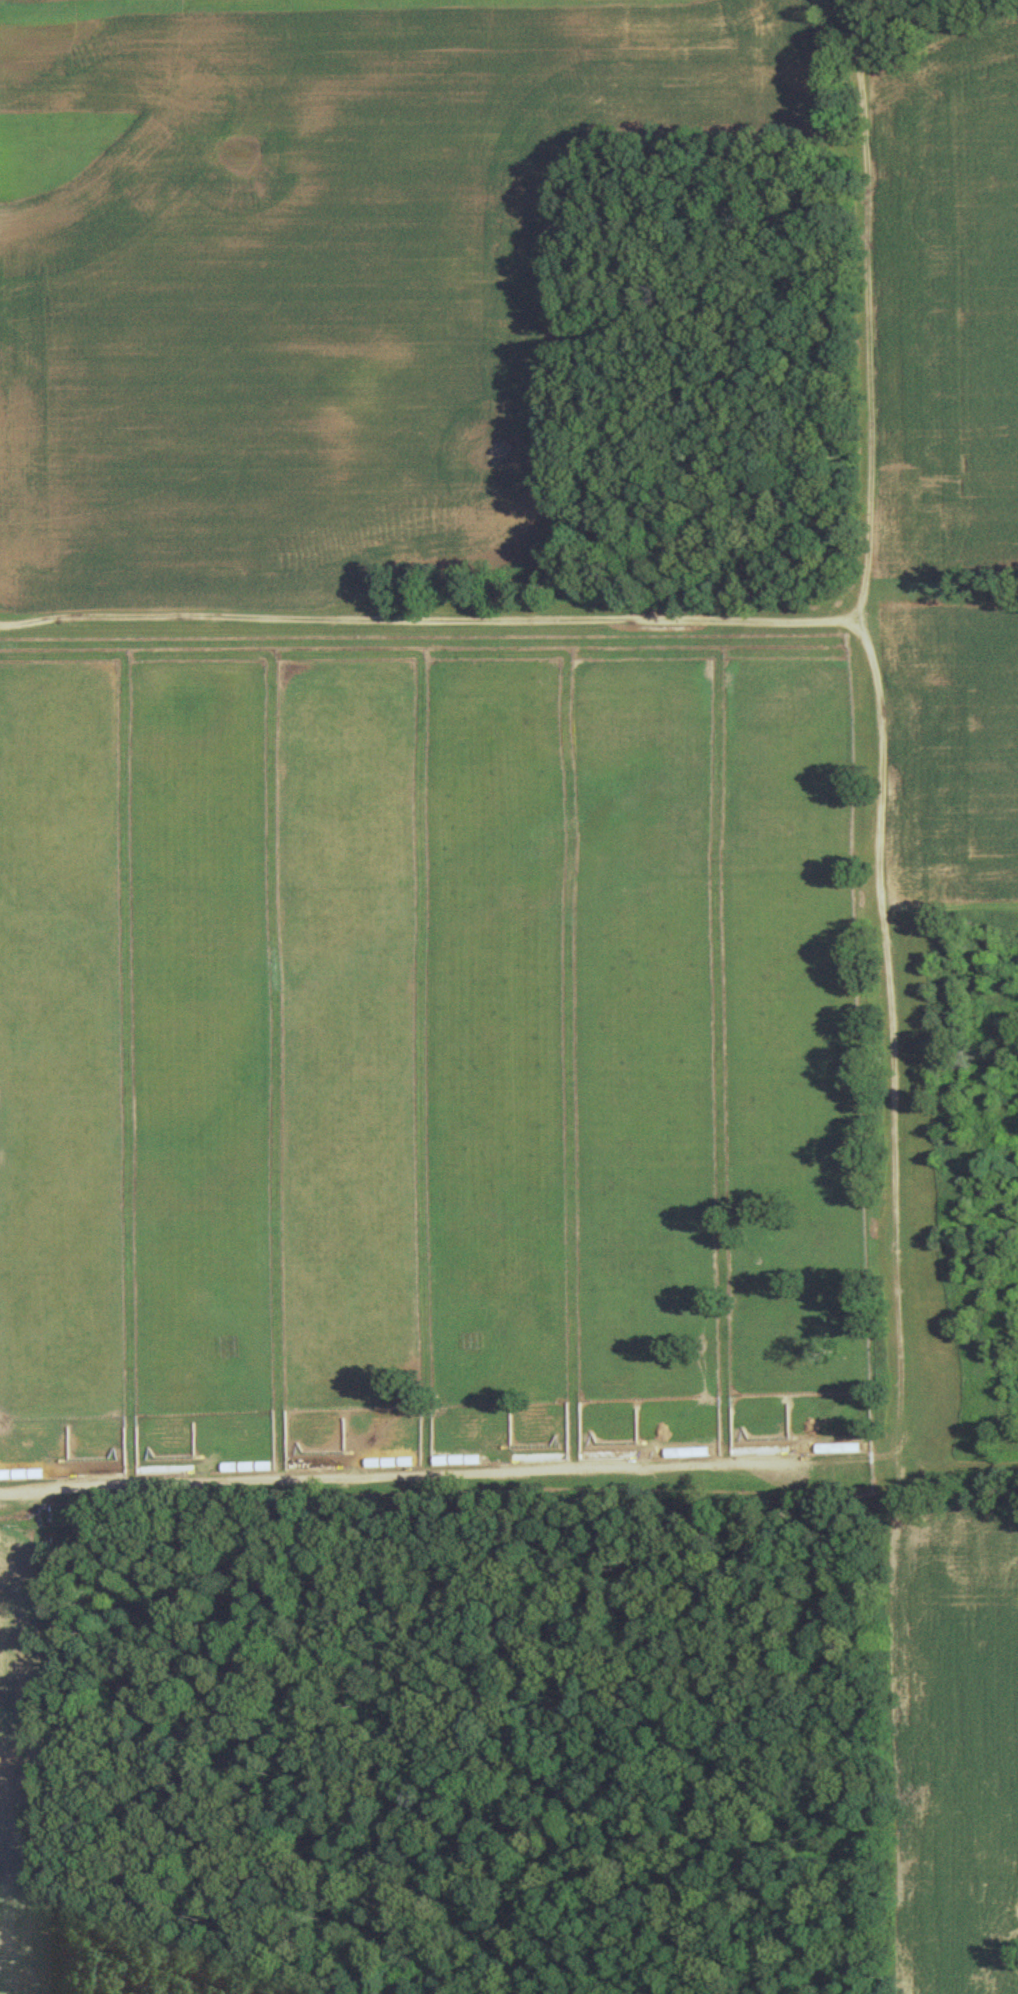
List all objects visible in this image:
road: (430, 622)
road: (881, 838)
road: (900, 1301)
road: (404, 1480)

